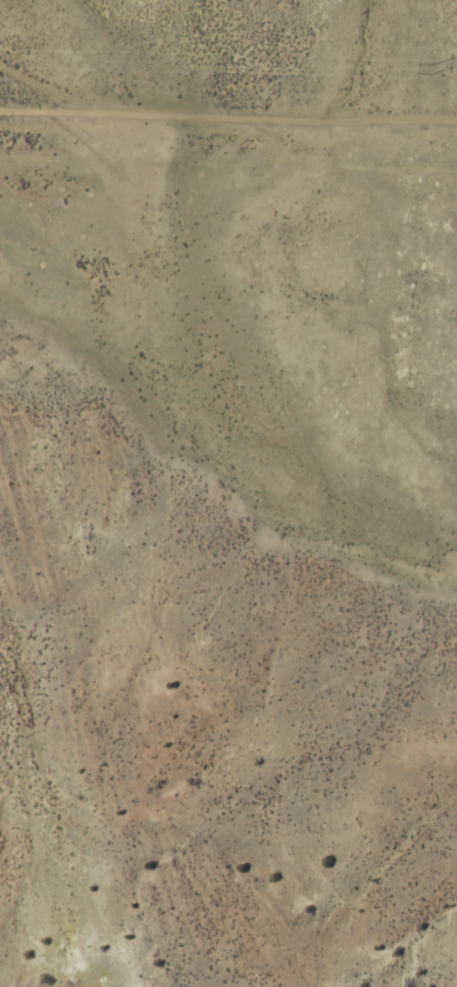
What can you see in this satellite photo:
power tower: (428, 71)
road: (192, 477)

